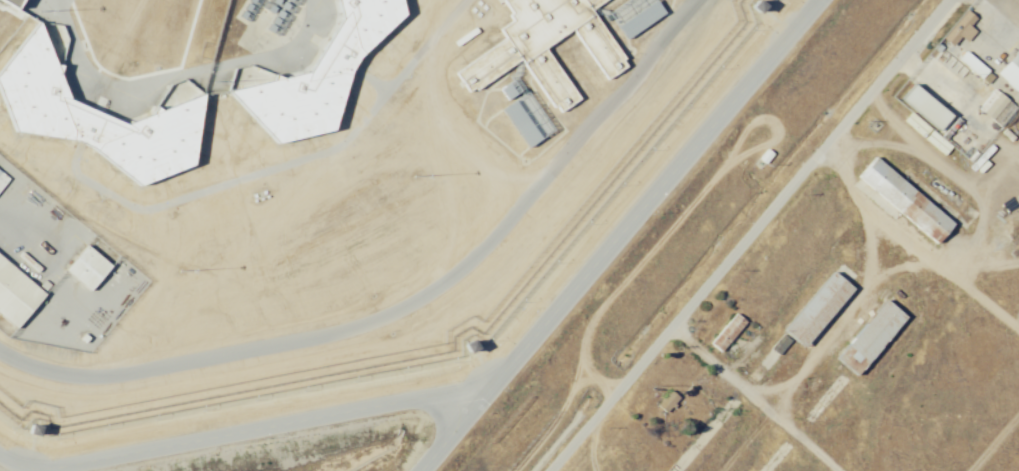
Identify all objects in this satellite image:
building: (9, 3)
building: (754, 4)
building: (634, 16)
building: (960, 31)
building: (543, 46)
building: (973, 66)
building: (1011, 73)
building: (311, 76)
building: (33, 102)
building: (925, 109)
building: (997, 110)
building: (904, 201)
road: (618, 235)
building: (85, 269)
building: (15, 296)
building: (817, 311)
building: (728, 334)
building: (869, 338)
building: (466, 344)
building: (667, 402)
building: (29, 428)
road: (245, 431)

